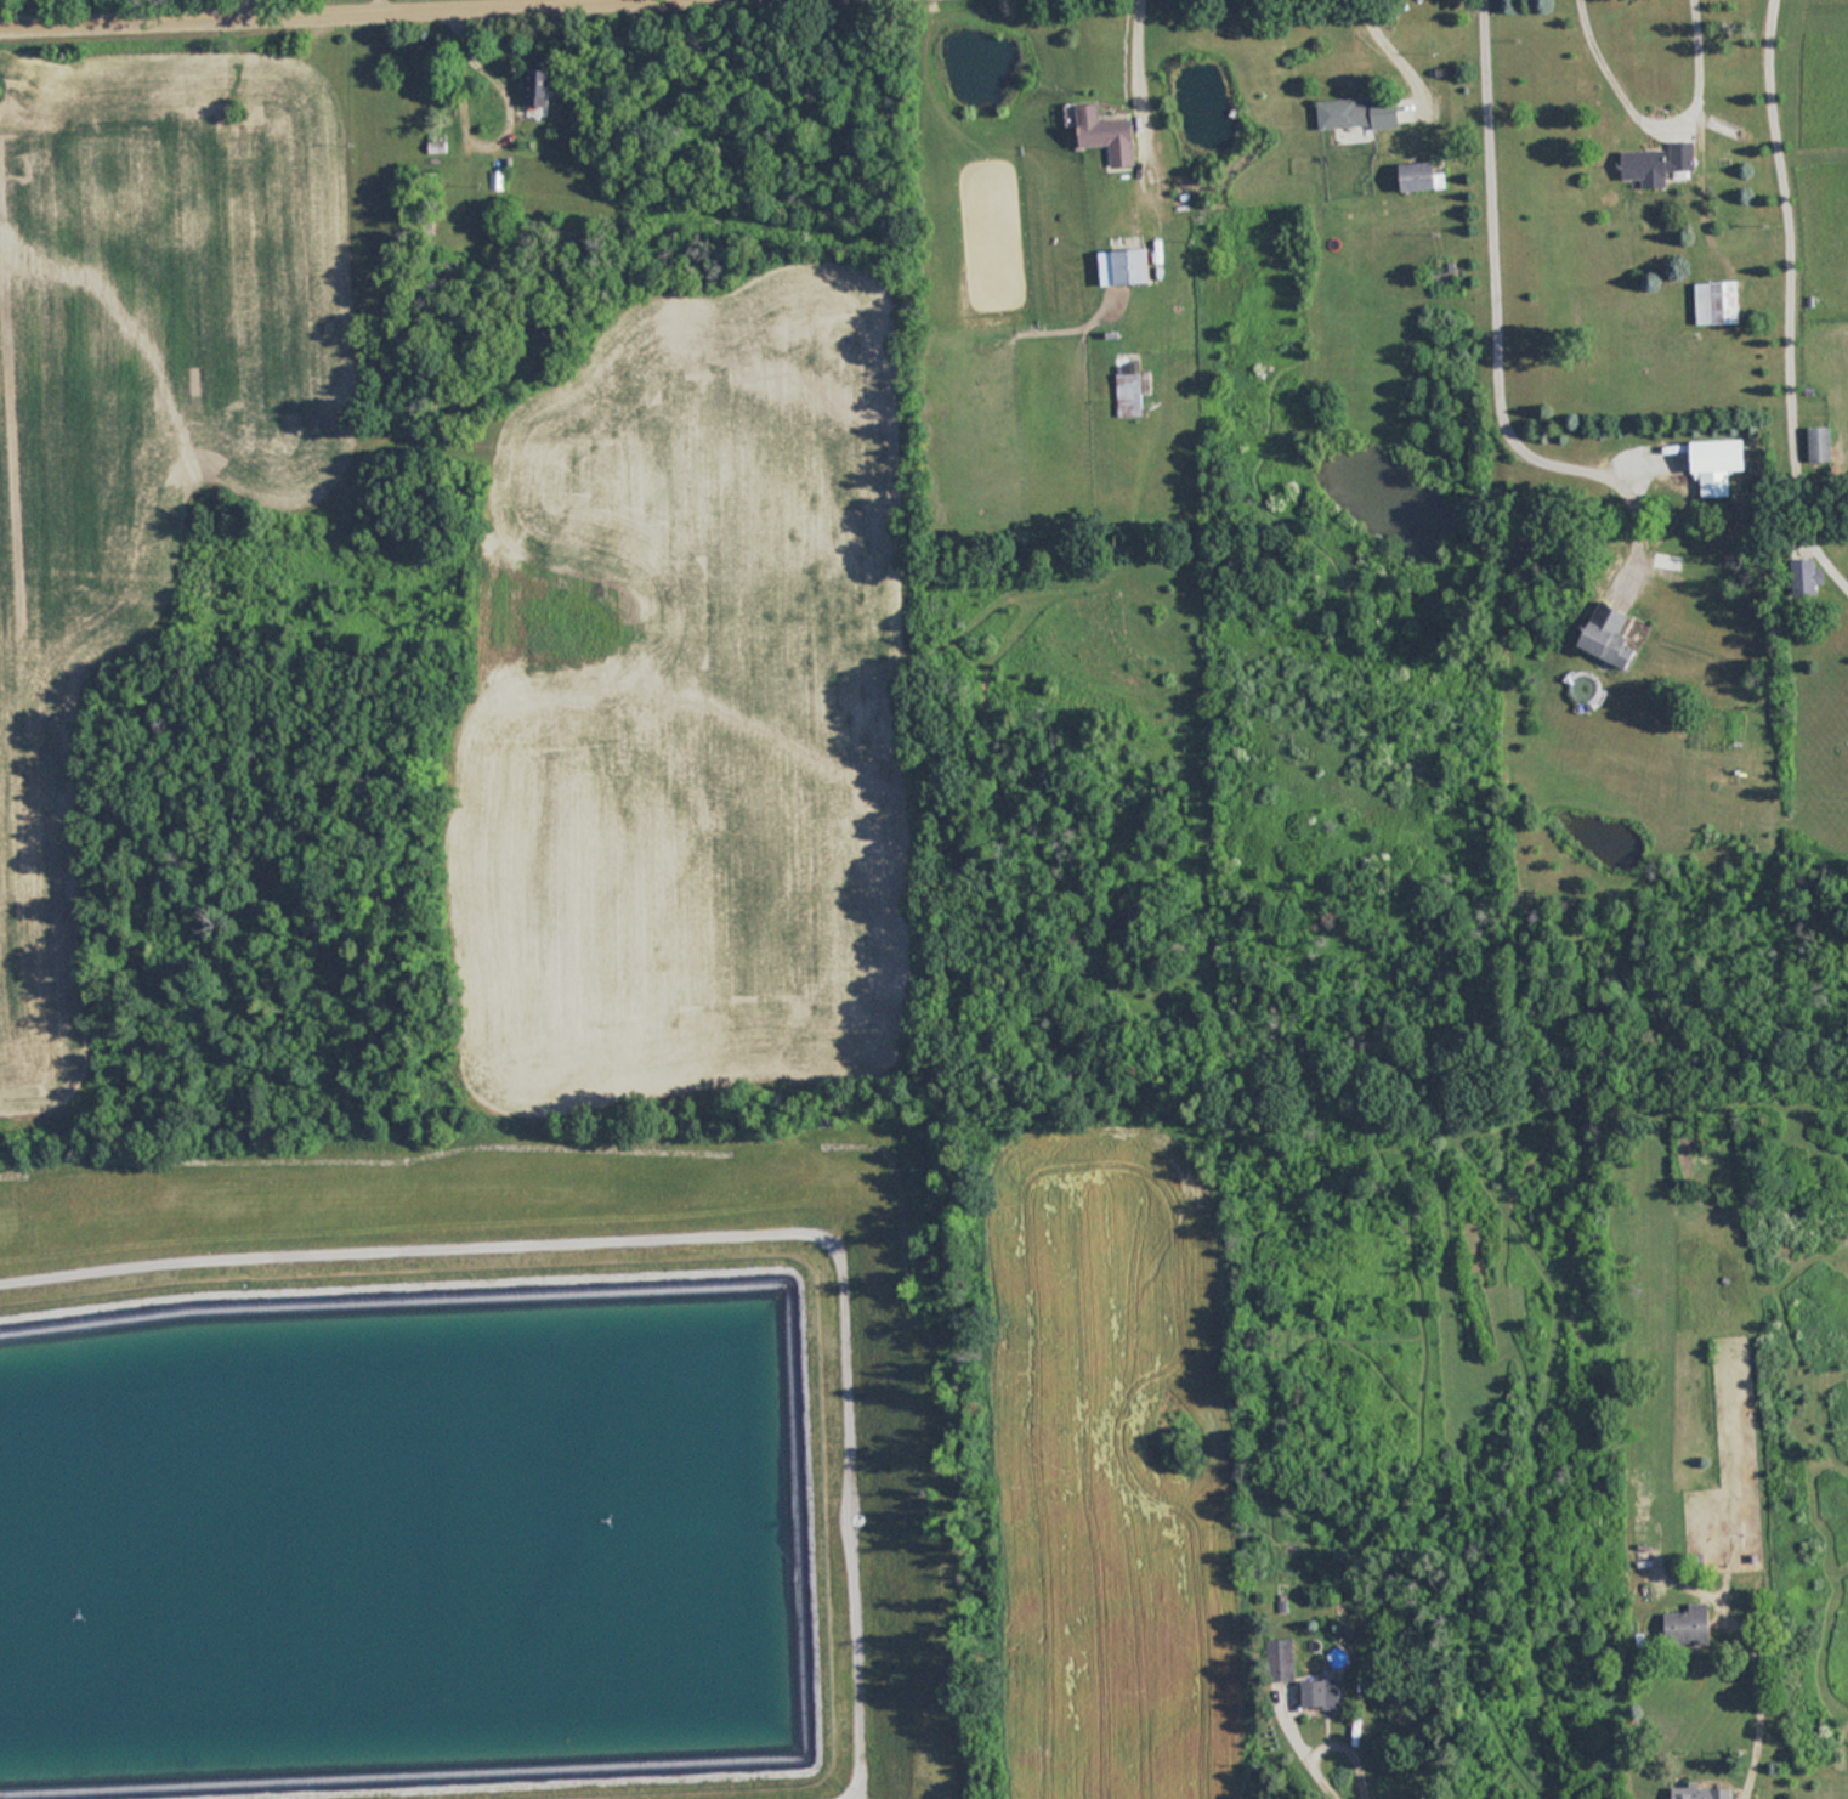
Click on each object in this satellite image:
road: (117, 4)
building: (537, 86)
road: (1659, 108)
building: (1357, 112)
building: (1107, 134)
building: (1657, 164)
building: (1133, 267)
building: (454, 271)
road: (1792, 293)
building: (1718, 302)
road: (1497, 312)
building: (1130, 395)
building: (1820, 445)
building: (1806, 578)
building: (1610, 635)
wastewater plant: (480, 1466)
building: (1689, 1625)
building: (1281, 1658)
building: (1323, 1692)
road: (1314, 1750)
building: (1704, 1792)

